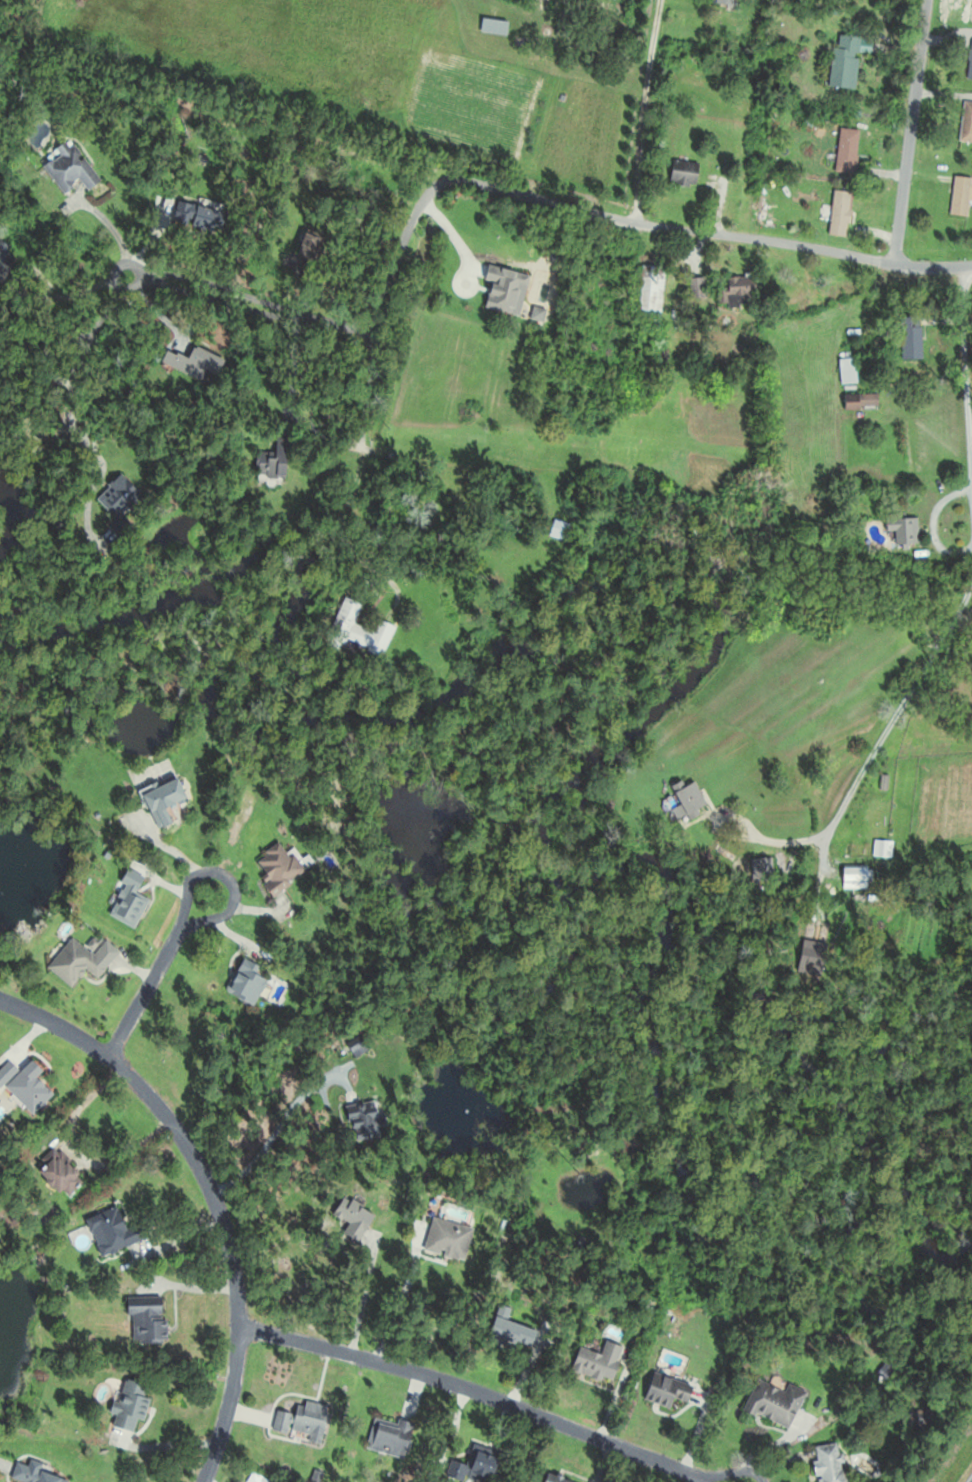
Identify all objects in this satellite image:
building: (783, 2)
building: (720, 3)
building: (495, 26)
building: (969, 62)
building: (841, 63)
building: (575, 97)
road: (651, 111)
building: (486, 113)
building: (965, 126)
road: (910, 131)
building: (843, 153)
building: (72, 168)
building: (685, 172)
building: (959, 197)
road: (421, 200)
building: (197, 216)
building: (836, 216)
road: (115, 233)
building: (311, 246)
building: (5, 261)
building: (535, 289)
building: (650, 289)
building: (742, 291)
road: (43, 337)
building: (908, 339)
building: (202, 364)
building: (844, 372)
road: (964, 372)
road: (292, 373)
building: (856, 403)
road: (100, 459)
building: (278, 462)
building: (122, 504)
building: (563, 529)
building: (905, 529)
building: (380, 534)
building: (361, 628)
road: (876, 747)
building: (692, 797)
building: (165, 799)
building: (280, 867)
building: (759, 869)
building: (856, 876)
building: (128, 901)
building: (77, 961)
road: (155, 973)
building: (248, 981)
building: (30, 1087)
building: (363, 1118)
building: (63, 1175)
road: (211, 1194)
building: (360, 1217)
building: (116, 1230)
building: (451, 1239)
road: (365, 1296)
road: (397, 1307)
building: (149, 1318)
building: (518, 1333)
building: (602, 1361)
building: (669, 1390)
road: (478, 1393)
building: (778, 1400)
building: (132, 1405)
building: (928, 1417)
building: (303, 1421)
building: (390, 1436)
building: (831, 1463)
building: (482, 1467)
building: (38, 1473)

